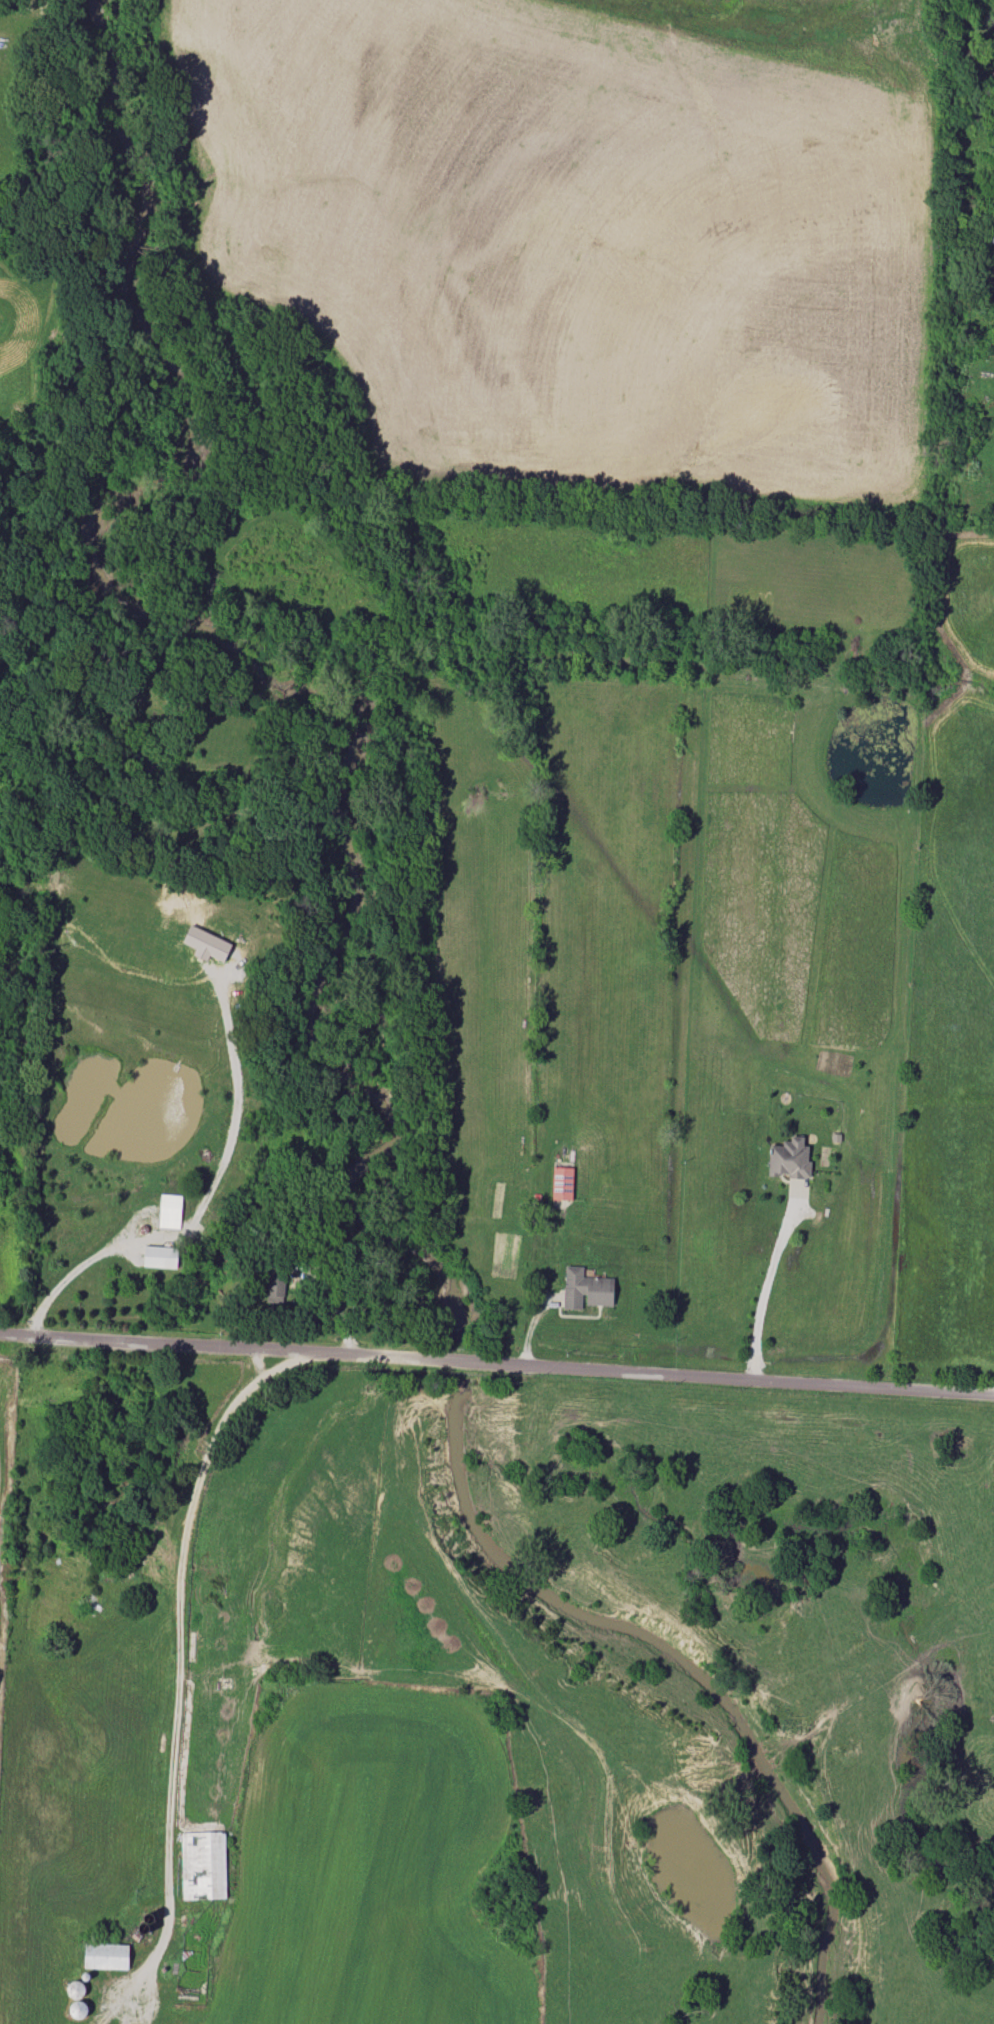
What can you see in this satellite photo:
crop: (589, 231)
building: (206, 942)
building: (789, 1158)
building: (561, 1183)
road: (202, 1202)
building: (169, 1211)
building: (159, 1256)
road: (768, 1279)
building: (585, 1289)
road: (496, 1358)
road: (179, 1639)
crop: (372, 1858)
building: (105, 1956)

